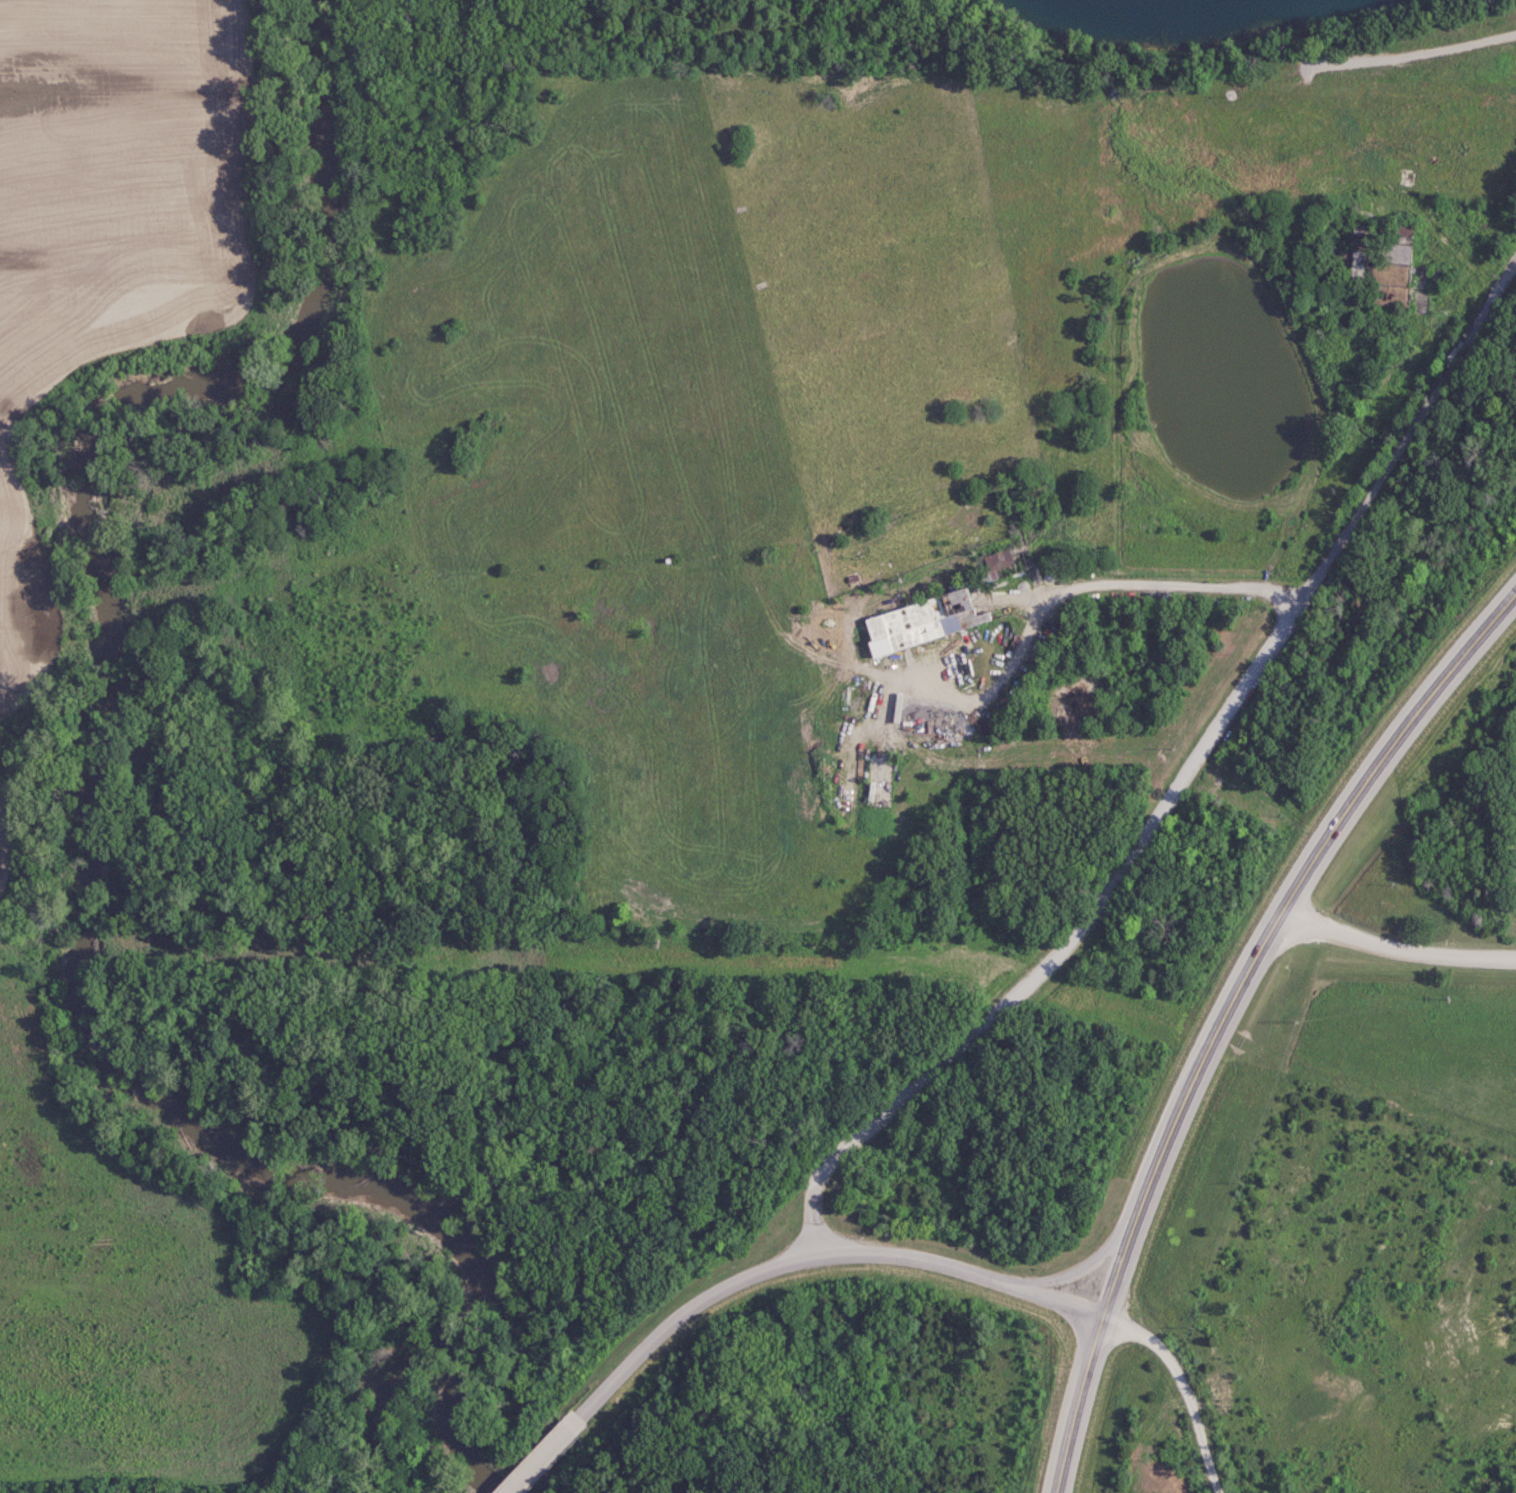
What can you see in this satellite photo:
building: (996, 559)
road: (1066, 590)
building: (920, 620)
road: (1066, 947)
road: (1396, 952)
road: (1228, 1014)
road: (959, 1270)
road: (1183, 1387)

